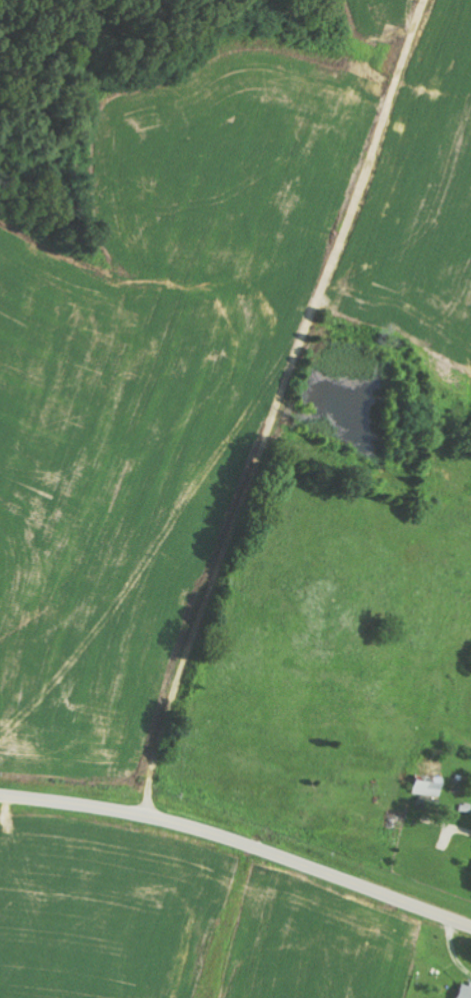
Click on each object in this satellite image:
road: (251, 406)
building: (422, 786)
road: (240, 842)

